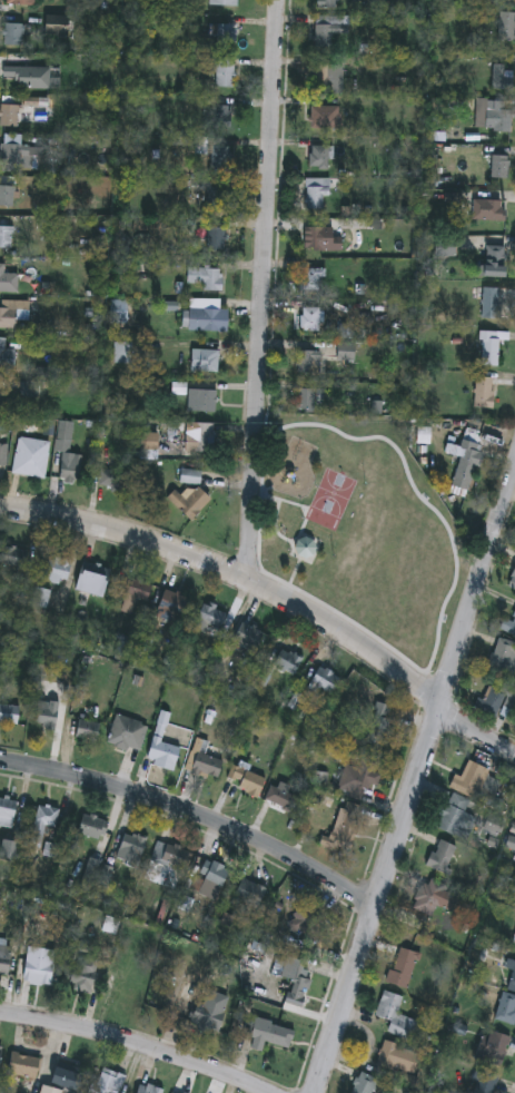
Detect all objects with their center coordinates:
building: (23, 3)
building: (329, 4)
building: (505, 28)
building: (329, 33)
building: (226, 37)
building: (16, 38)
building: (225, 73)
building: (31, 77)
building: (330, 79)
building: (502, 79)
building: (36, 104)
building: (11, 117)
building: (321, 117)
building: (499, 118)
building: (220, 119)
building: (18, 155)
building: (221, 158)
building: (323, 158)
building: (501, 168)
building: (319, 196)
building: (8, 198)
building: (220, 199)
building: (488, 211)
building: (217, 236)
building: (7, 238)
building: (320, 239)
building: (445, 252)
building: (493, 263)
building: (208, 279)
building: (8, 280)
building: (315, 282)
road: (263, 288)
building: (491, 305)
building: (120, 313)
building: (13, 315)
building: (207, 321)
building: (313, 322)
building: (488, 351)
building: (7, 356)
building: (207, 362)
building: (310, 364)
building: (483, 394)
building: (204, 402)
building: (308, 402)
building: (207, 440)
building: (3, 455)
building: (31, 460)
building: (466, 466)
building: (71, 469)
building: (191, 477)
building: (113, 481)
building: (189, 504)
park: (365, 531)
building: (308, 550)
building: (13, 558)
building: (60, 570)
building: (93, 580)
building: (132, 591)
road: (274, 593)
building: (41, 602)
building: (170, 608)
building: (210, 619)
building: (508, 626)
building: (246, 640)
building: (503, 659)
building: (286, 663)
building: (324, 682)
building: (489, 703)
building: (10, 716)
building: (47, 716)
building: (88, 731)
building: (378, 731)
building: (127, 735)
building: (162, 754)
building: (204, 761)
building: (245, 781)
building: (356, 781)
building: (475, 785)
building: (284, 801)
road: (418, 804)
building: (8, 813)
road: (199, 817)
building: (457, 819)
building: (43, 824)
building: (492, 825)
building: (93, 827)
building: (350, 828)
building: (11, 850)
building: (50, 850)
building: (132, 850)
building: (171, 855)
building: (439, 858)
building: (210, 880)
building: (249, 893)
building: (428, 897)
building: (308, 925)
building: (6, 958)
building: (403, 969)
building: (40, 973)
building: (83, 975)
building: (293, 979)
building: (188, 993)
building: (505, 1008)
building: (395, 1016)
building: (205, 1021)
building: (270, 1036)
road: (136, 1043)
building: (494, 1050)
building: (398, 1060)
building: (1, 1061)
building: (24, 1066)
building: (69, 1079)
building: (109, 1083)
building: (485, 1083)
building: (364, 1084)
building: (51, 1090)
building: (147, 1090)

